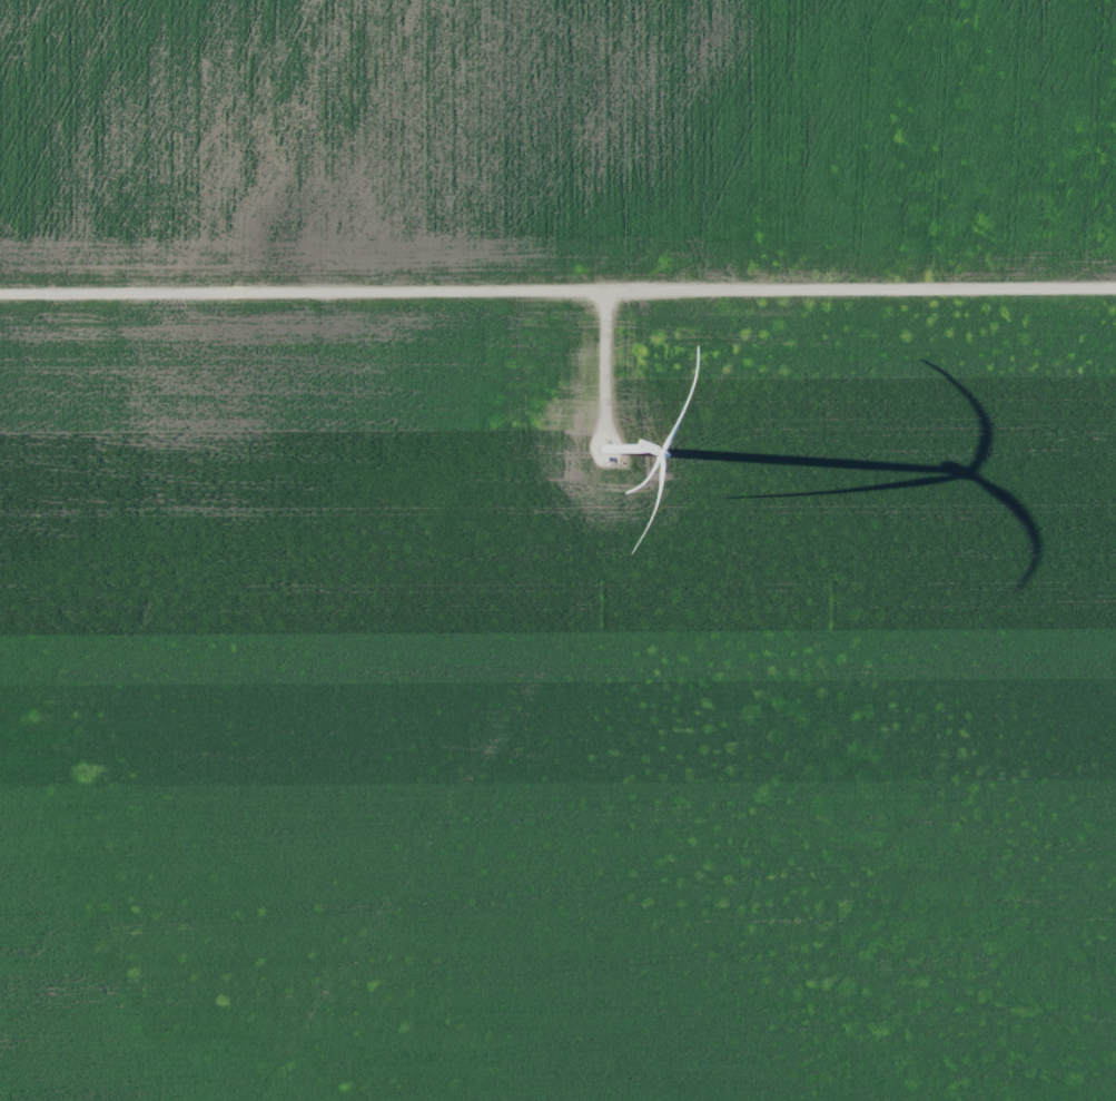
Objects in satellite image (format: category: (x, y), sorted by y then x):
wind turbine: (608, 446)

